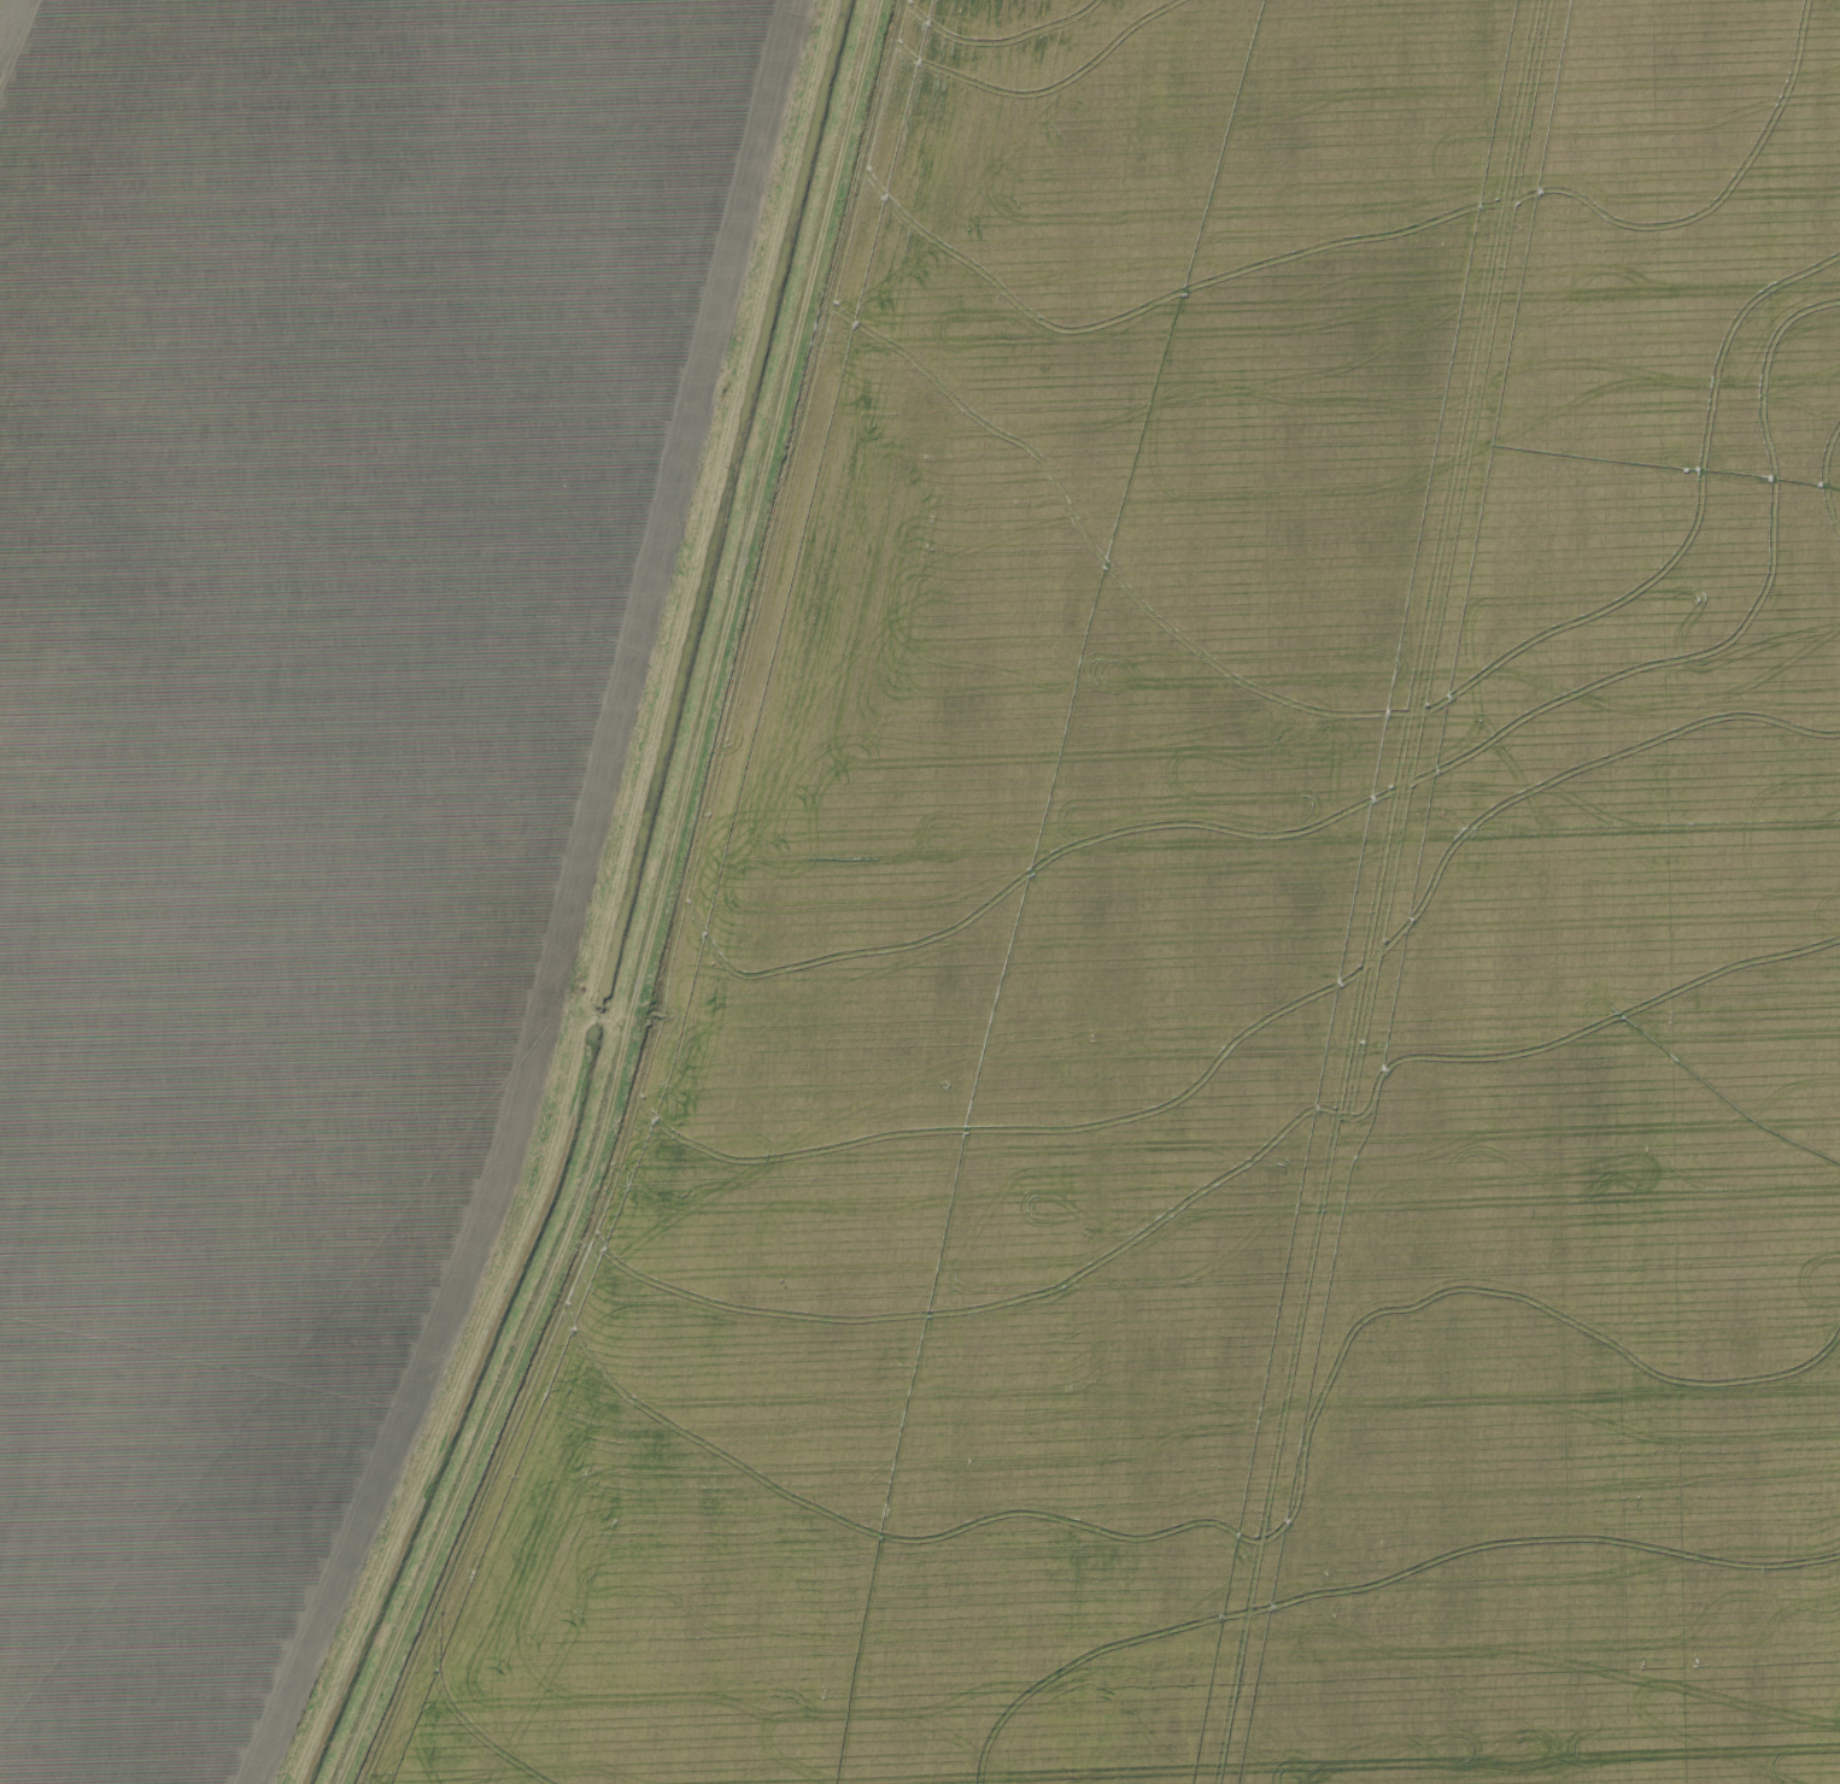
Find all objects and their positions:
road: (660, 906)

